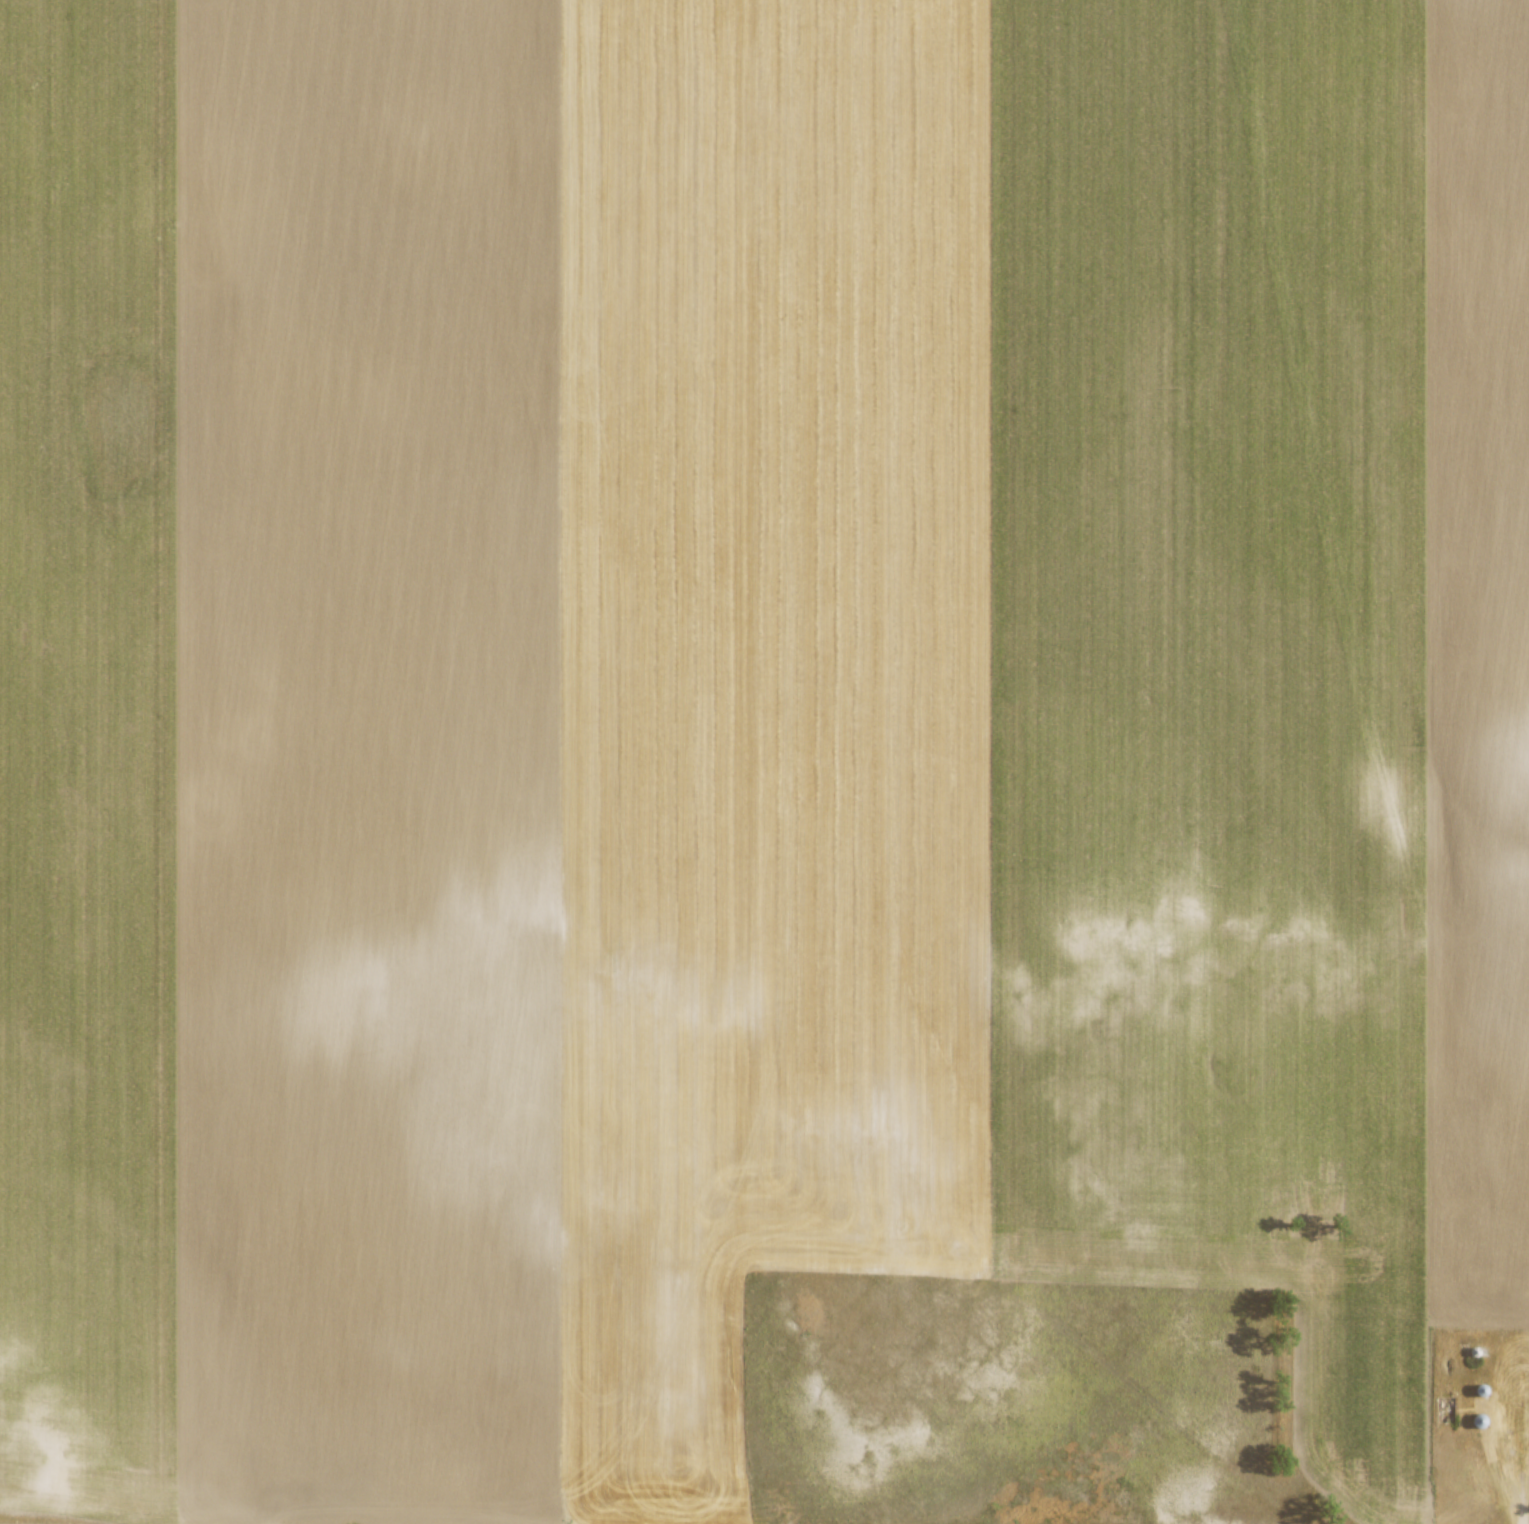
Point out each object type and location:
building: (1482, 1388)
building: (1480, 1419)

